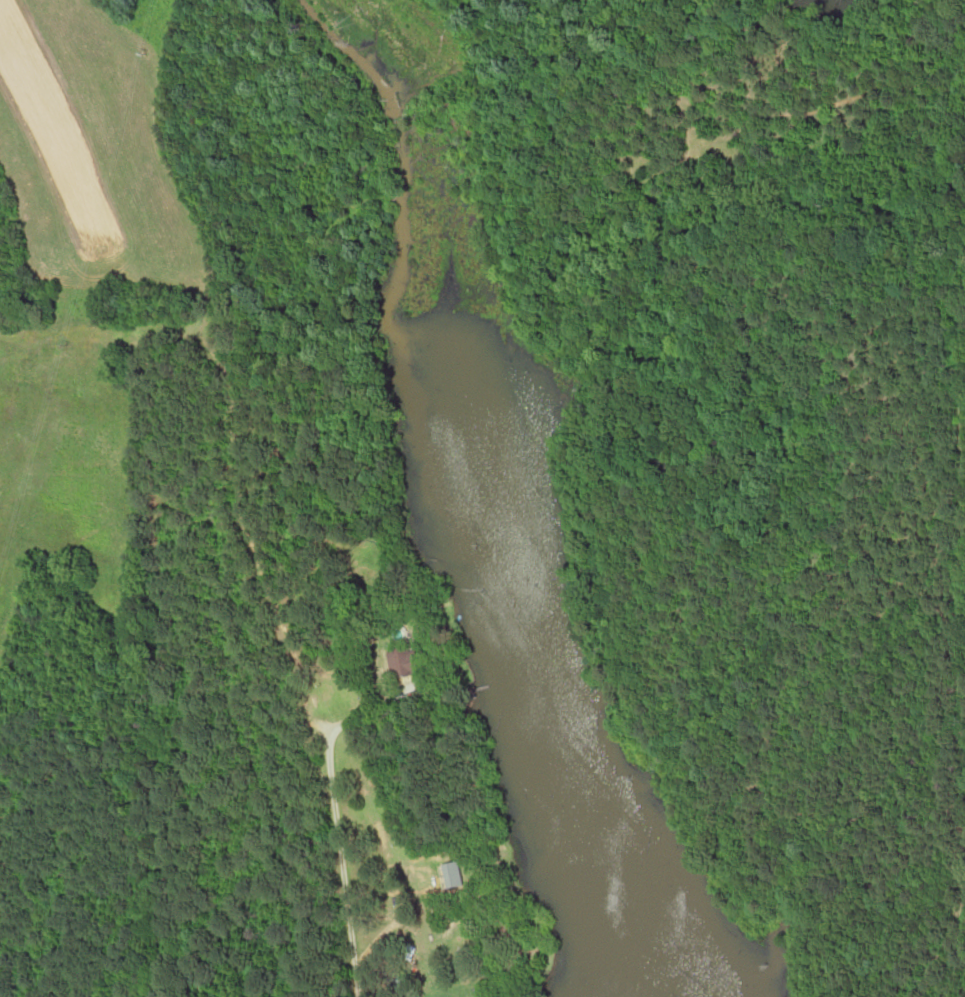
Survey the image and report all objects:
building: (416, 663)

